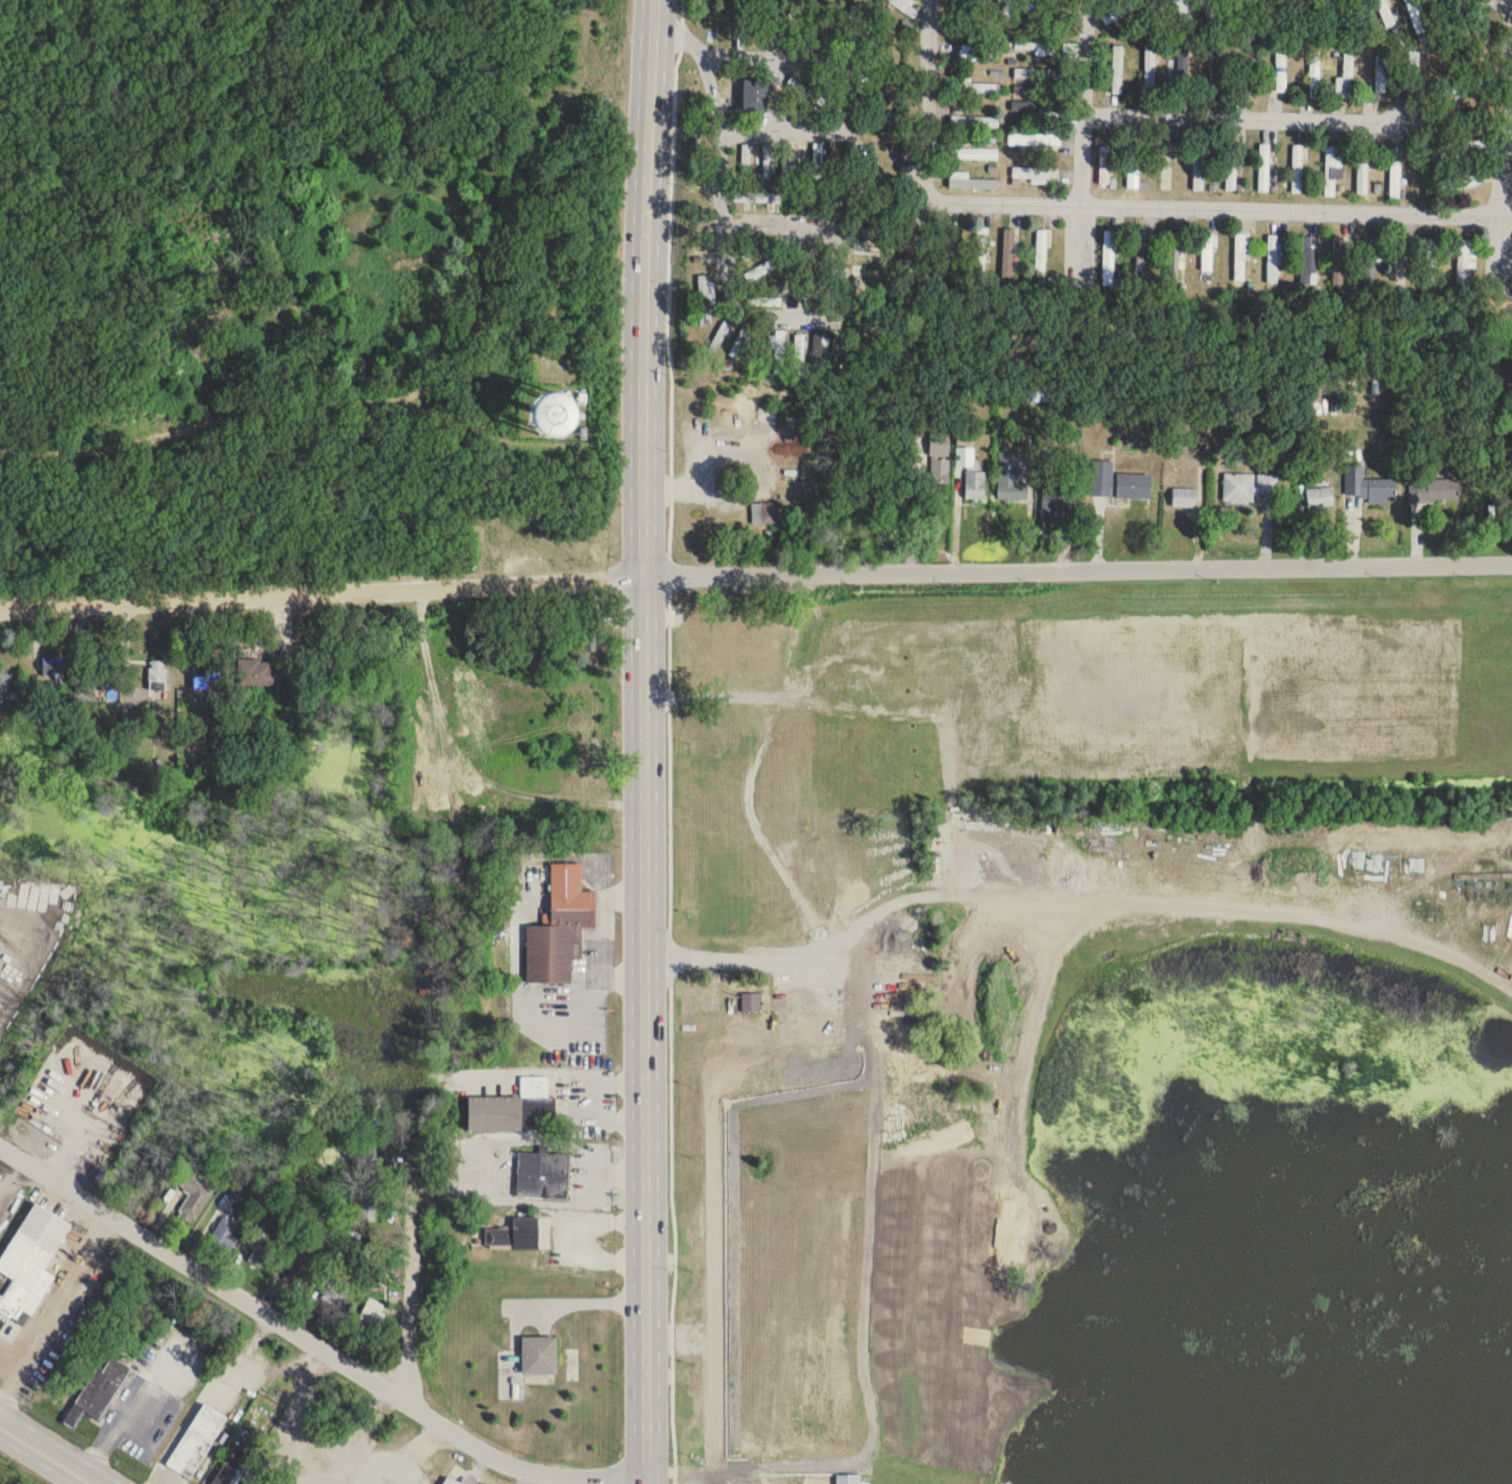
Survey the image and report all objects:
building: (1026, 5)
building: (1046, 8)
building: (987, 9)
building: (1009, 9)
building: (1062, 10)
building: (1120, 11)
building: (1208, 11)
building: (1184, 12)
building: (1266, 12)
building: (1385, 12)
building: (1325, 14)
building: (1416, 16)
building: (1448, 17)
building: (1477, 25)
building: (785, 27)
building: (740, 30)
building: (829, 30)
road: (680, 32)
building: (1037, 44)
building: (1070, 51)
building: (978, 55)
road: (841, 60)
building: (1182, 67)
building: (1149, 68)
building: (1116, 69)
building: (1280, 70)
building: (1380, 70)
building: (1412, 70)
building: (1216, 72)
building: (1248, 72)
building: (1037, 73)
building: (1314, 74)
building: (1346, 78)
building: (1469, 86)
building: (979, 88)
building: (806, 91)
building: (754, 95)
road: (935, 101)
road: (1092, 103)
building: (1038, 108)
building: (1068, 115)
building: (1469, 115)
road: (1256, 119)
building: (974, 121)
building: (1038, 141)
building: (1462, 149)
building: (973, 153)
building: (817, 160)
building: (767, 161)
building: (786, 161)
building: (848, 164)
building: (1104, 165)
building: (1167, 165)
building: (1133, 166)
building: (1198, 167)
building: (1231, 167)
building: (1264, 168)
building: (1297, 169)
building: (1333, 169)
building: (1362, 170)
building: (1032, 174)
building: (1066, 175)
building: (1395, 180)
building: (1464, 181)
road: (719, 182)
building: (971, 182)
building: (803, 196)
road: (1510, 204)
road: (1213, 211)
road: (782, 224)
building: (876, 233)
building: (913, 243)
building: (1041, 250)
building: (1141, 250)
building: (756, 252)
building: (981, 252)
building: (1207, 252)
building: (1008, 253)
building: (1173, 256)
building: (1240, 257)
building: (945, 258)
building: (1108, 258)
building: (1273, 259)
building: (1307, 261)
building: (1338, 261)
building: (1401, 261)
building: (810, 262)
building: (1431, 262)
building: (1371, 263)
building: (1462, 263)
building: (705, 295)
building: (764, 301)
park: (241, 316)
road: (829, 316)
building: (721, 332)
building: (739, 341)
building: (778, 352)
building: (799, 355)
building: (1032, 393)
road: (317, 402)
building: (549, 415)
water tower: (548, 416)
building: (964, 456)
building: (939, 466)
building: (1010, 479)
building: (1116, 479)
building: (974, 485)
building: (1368, 485)
building: (1248, 486)
building: (1435, 490)
building: (1319, 496)
building: (1184, 497)
building: (1058, 498)
building: (764, 512)
building: (509, 534)
road: (755, 573)
building: (726, 635)
building: (591, 640)
building: (52, 667)
building: (101, 669)
building: (210, 671)
building: (836, 672)
building: (261, 674)
building: (157, 678)
building: (4, 679)
road: (643, 741)
road: (1077, 898)
building: (560, 929)
building: (751, 1002)
building: (515, 1109)
building: (543, 1176)
road: (58, 1180)
road: (418, 1182)
building: (192, 1196)
building: (225, 1235)
building: (510, 1239)
building: (259, 1250)
building: (28, 1257)
building: (297, 1270)
building: (374, 1273)
road: (860, 1273)
building: (337, 1294)
building: (749, 1307)
road: (58, 1318)
building: (371, 1318)
building: (539, 1356)
road: (373, 1377)
building: (97, 1391)
road: (204, 1394)
road: (129, 1408)
building: (392, 1435)
building: (196, 1441)
road: (45, 1453)
building: (234, 1466)
building: (848, 1479)
building: (380, 1480)
building: (450, 1480)
road: (658, 1482)

